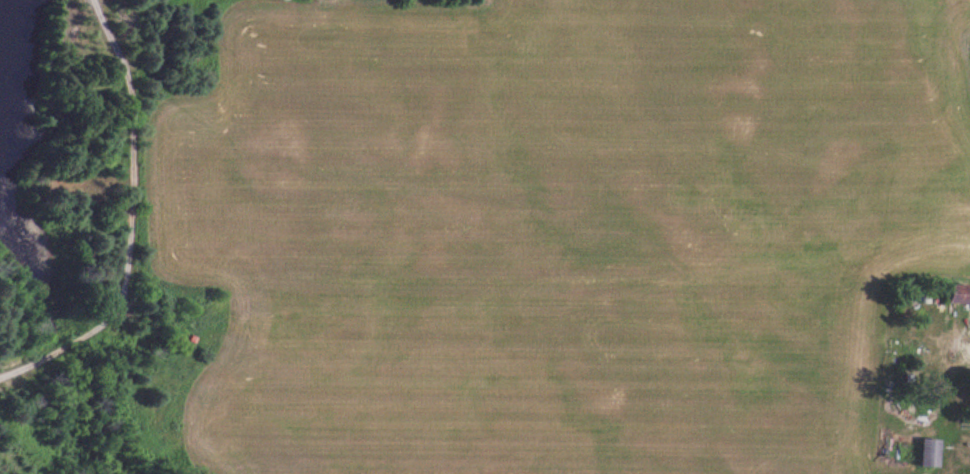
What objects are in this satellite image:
building: (952, 292)
building: (926, 451)

